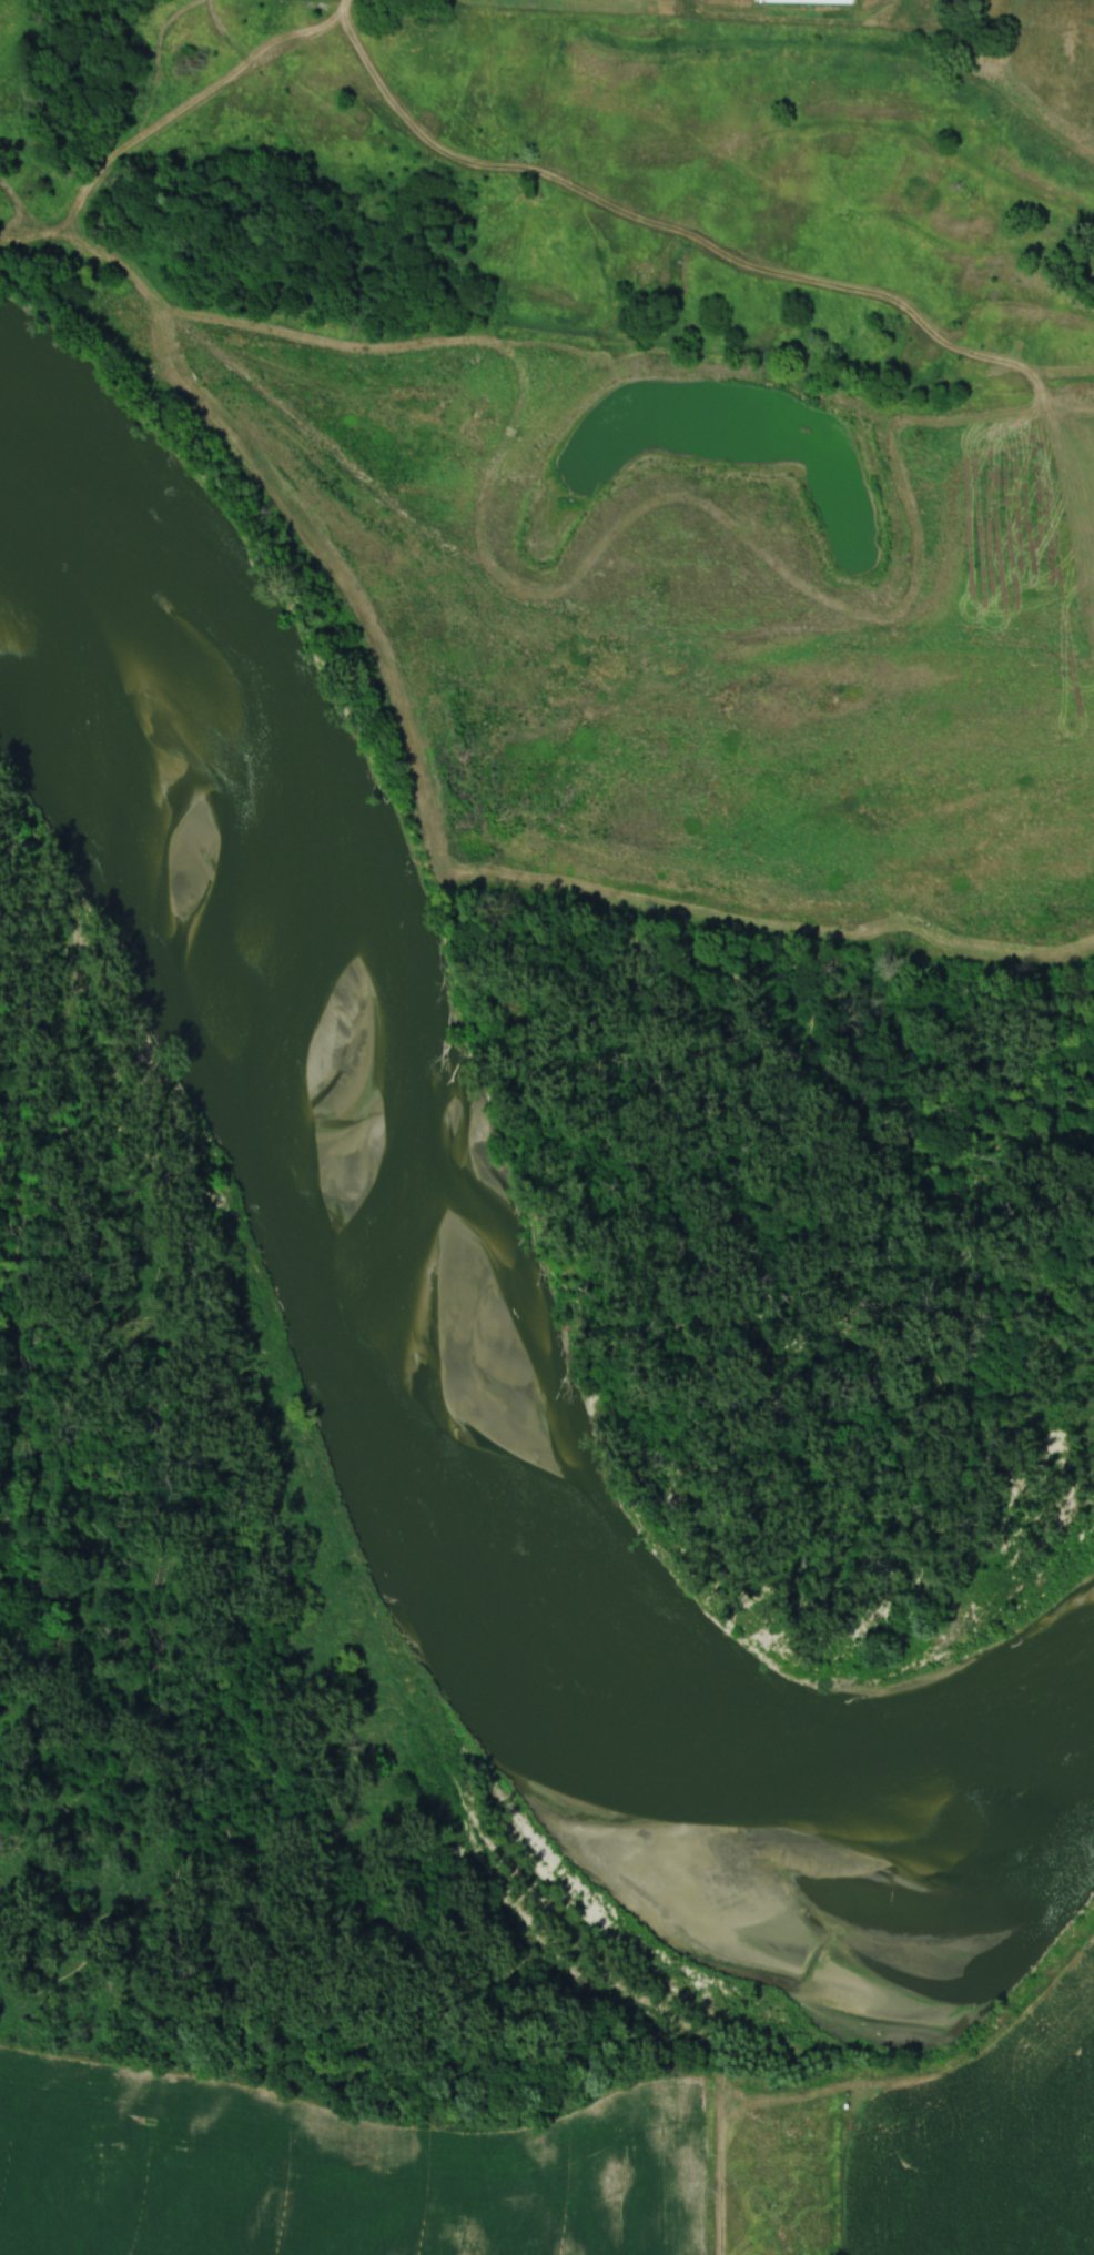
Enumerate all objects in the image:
river: (425, 1352)

